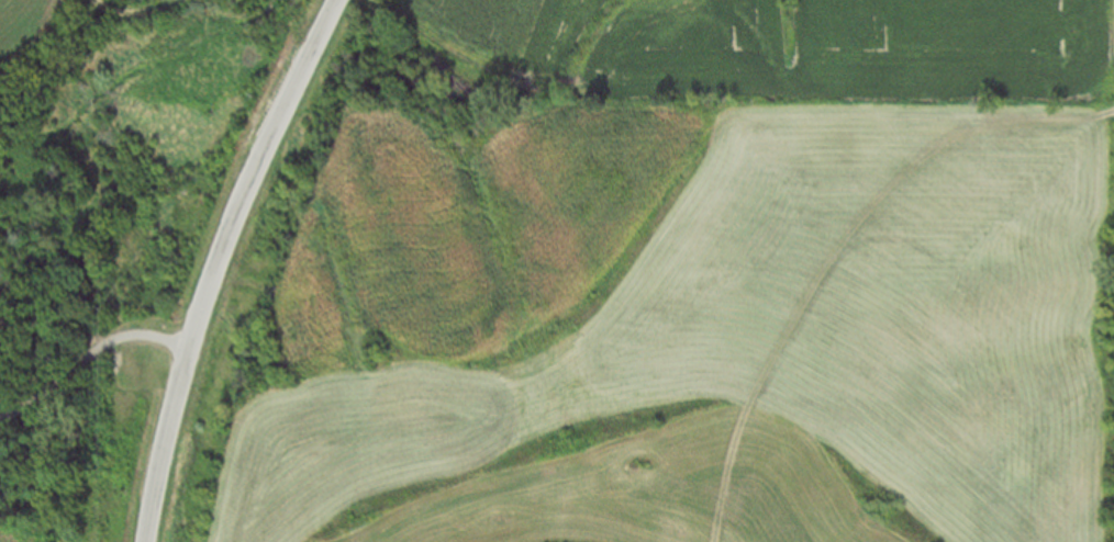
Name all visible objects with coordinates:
road: (218, 263)
road: (89, 357)

